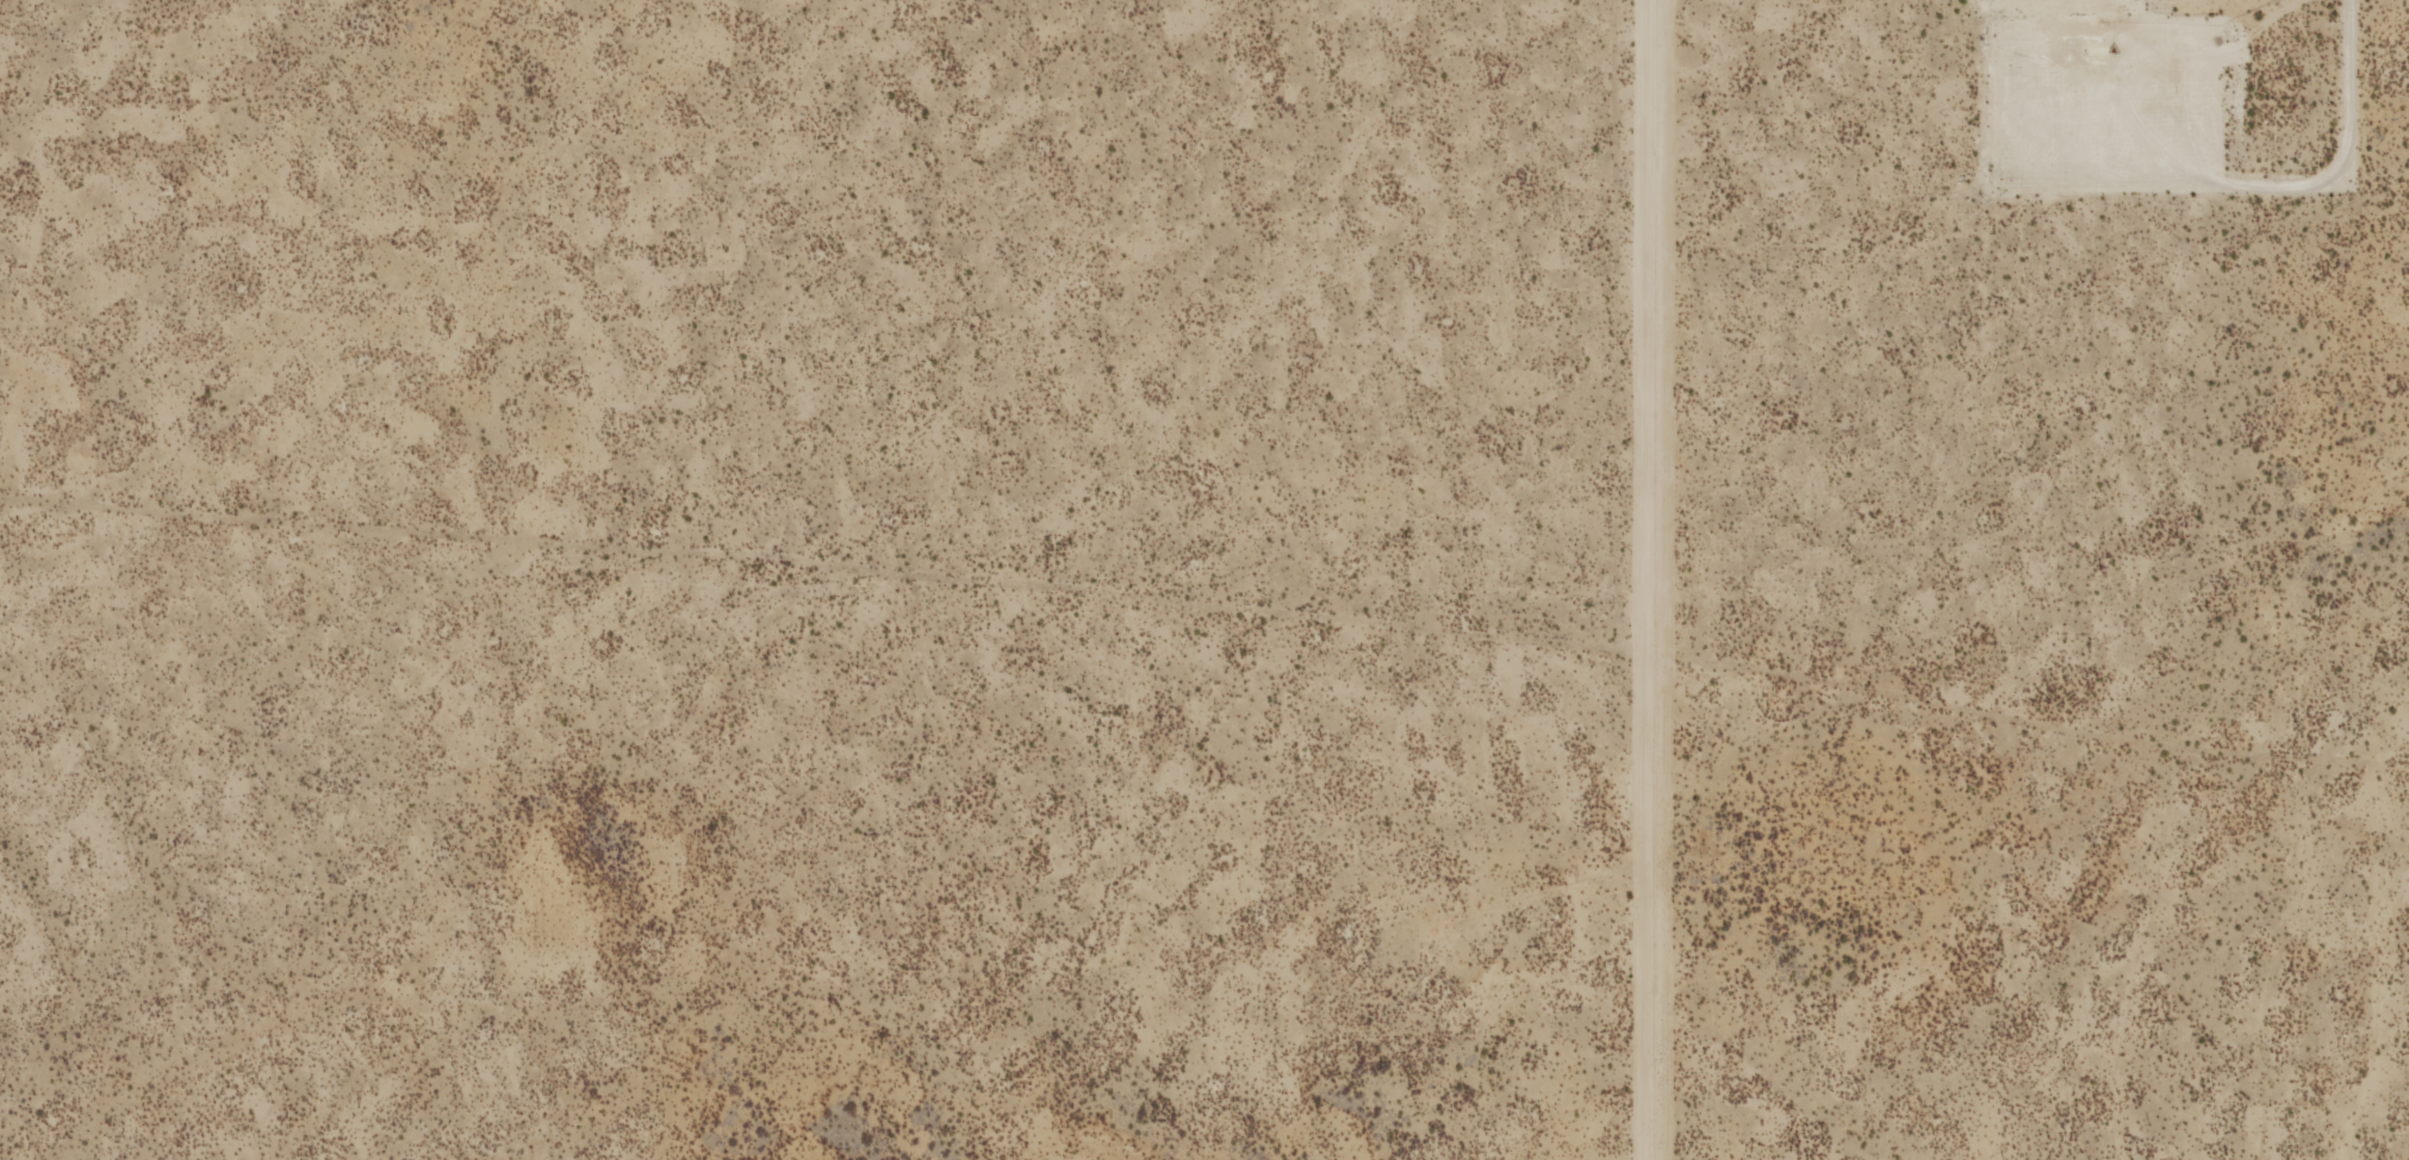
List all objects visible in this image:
road: (1605, 292)
road: (1209, 529)

